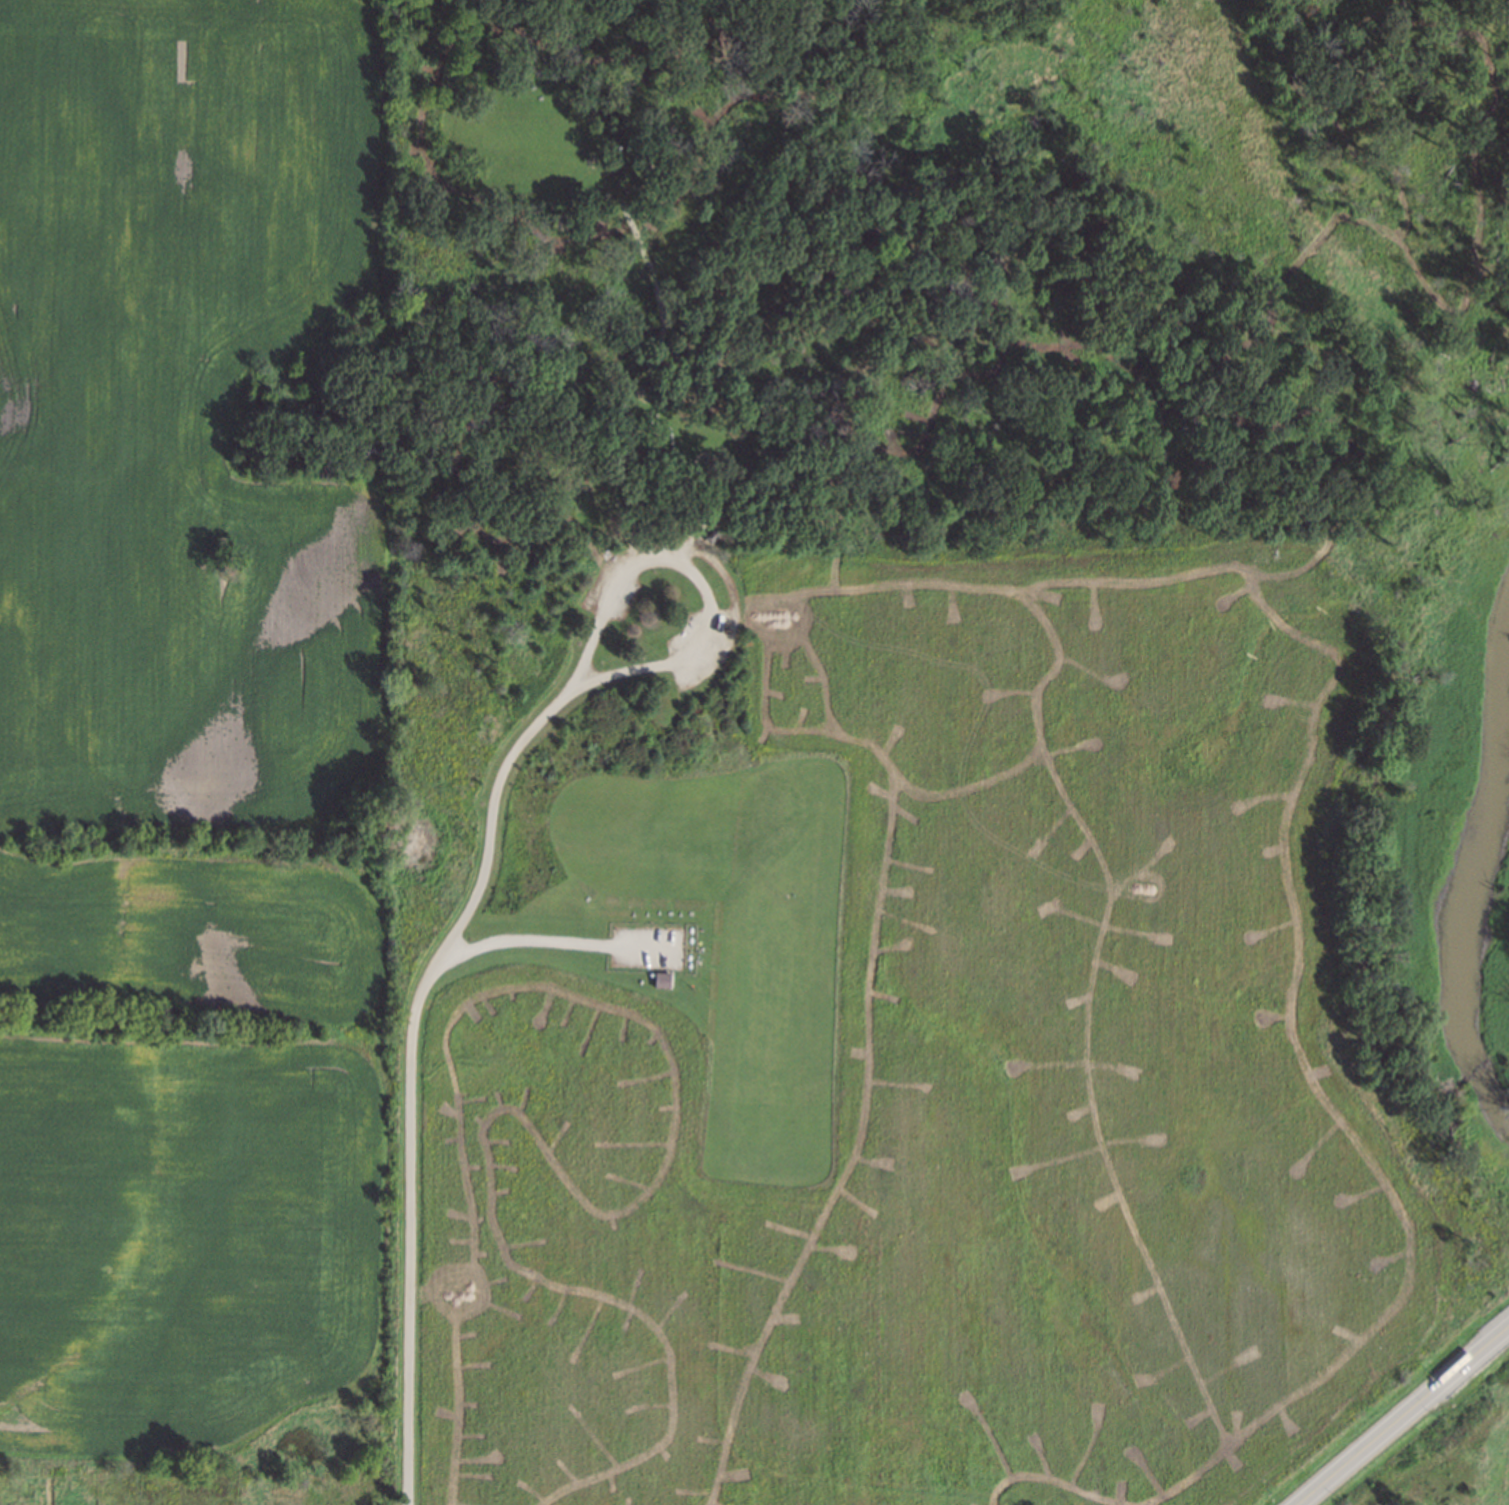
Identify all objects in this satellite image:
road: (648, 367)
road: (700, 577)
parking lot: (614, 588)
parking lot: (702, 644)
river: (1472, 873)
road: (554, 939)
parking lot: (648, 946)
building: (665, 979)
park: (1051, 1015)
road: (410, 1072)
road: (1403, 1415)
road: (1436, 1458)

